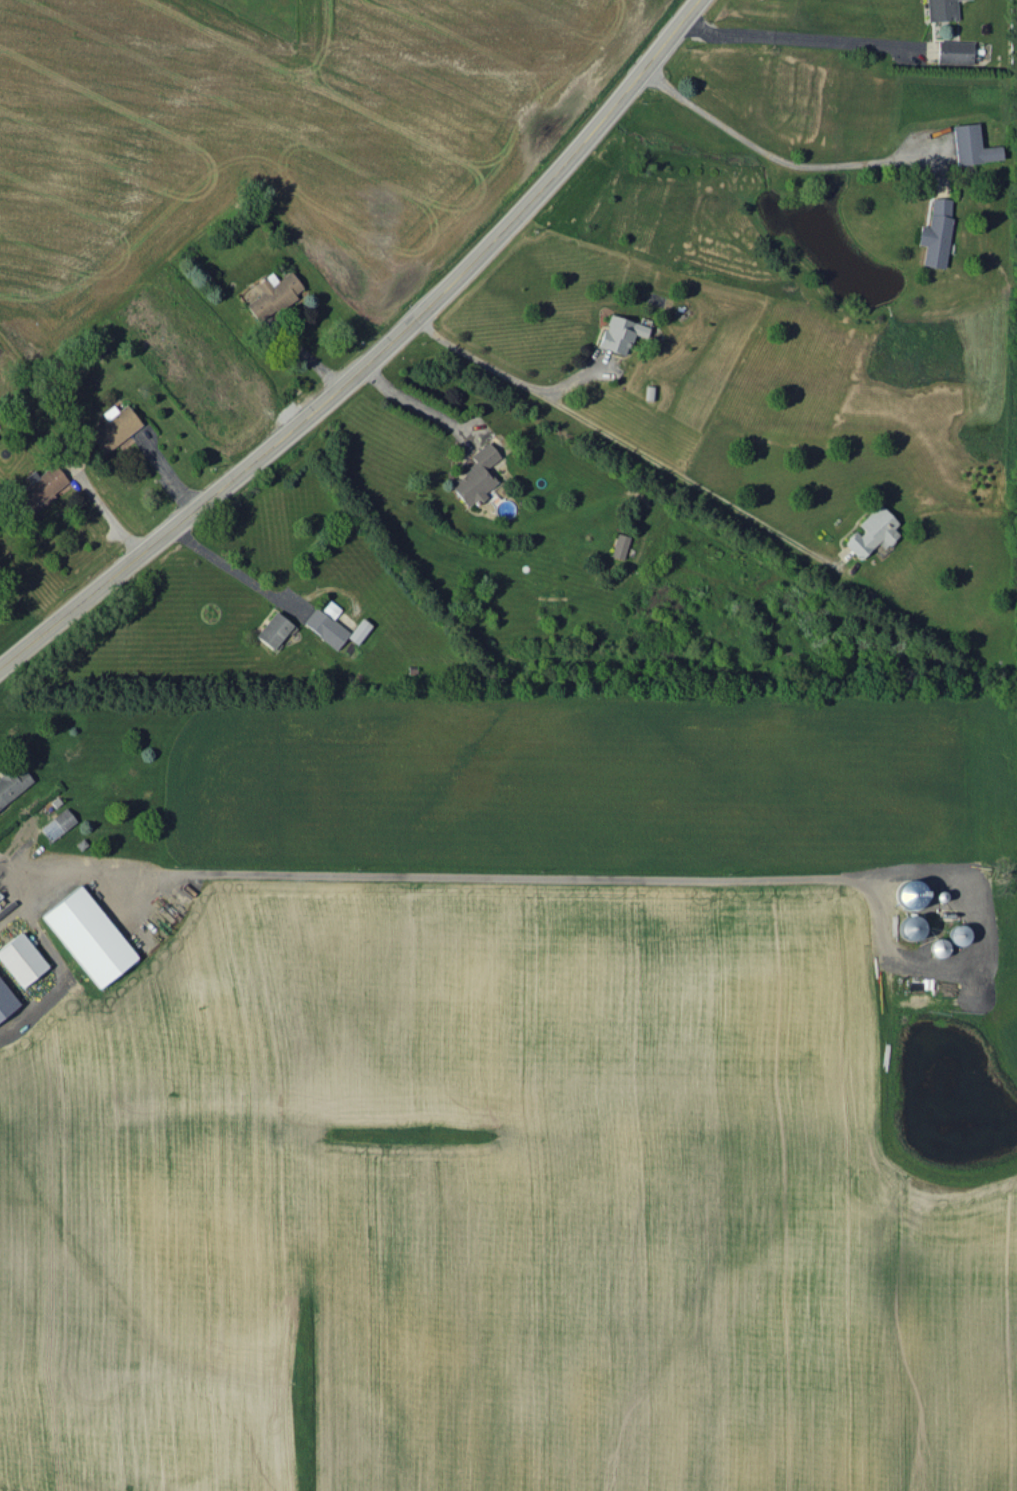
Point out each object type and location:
building: (941, 10)
road: (794, 36)
building: (956, 52)
road: (756, 142)
building: (972, 145)
building: (936, 233)
building: (273, 294)
building: (621, 333)
road: (370, 354)
road: (412, 400)
building: (114, 427)
road: (623, 437)
building: (476, 476)
building: (39, 489)
road: (103, 509)
building: (873, 532)
building: (620, 545)
road: (232, 562)
building: (327, 624)
building: (274, 629)
building: (359, 631)
building: (12, 784)
building: (58, 824)
road: (427, 877)
building: (910, 894)
building: (911, 927)
building: (958, 934)
building: (89, 936)
building: (22, 959)
building: (6, 1000)

